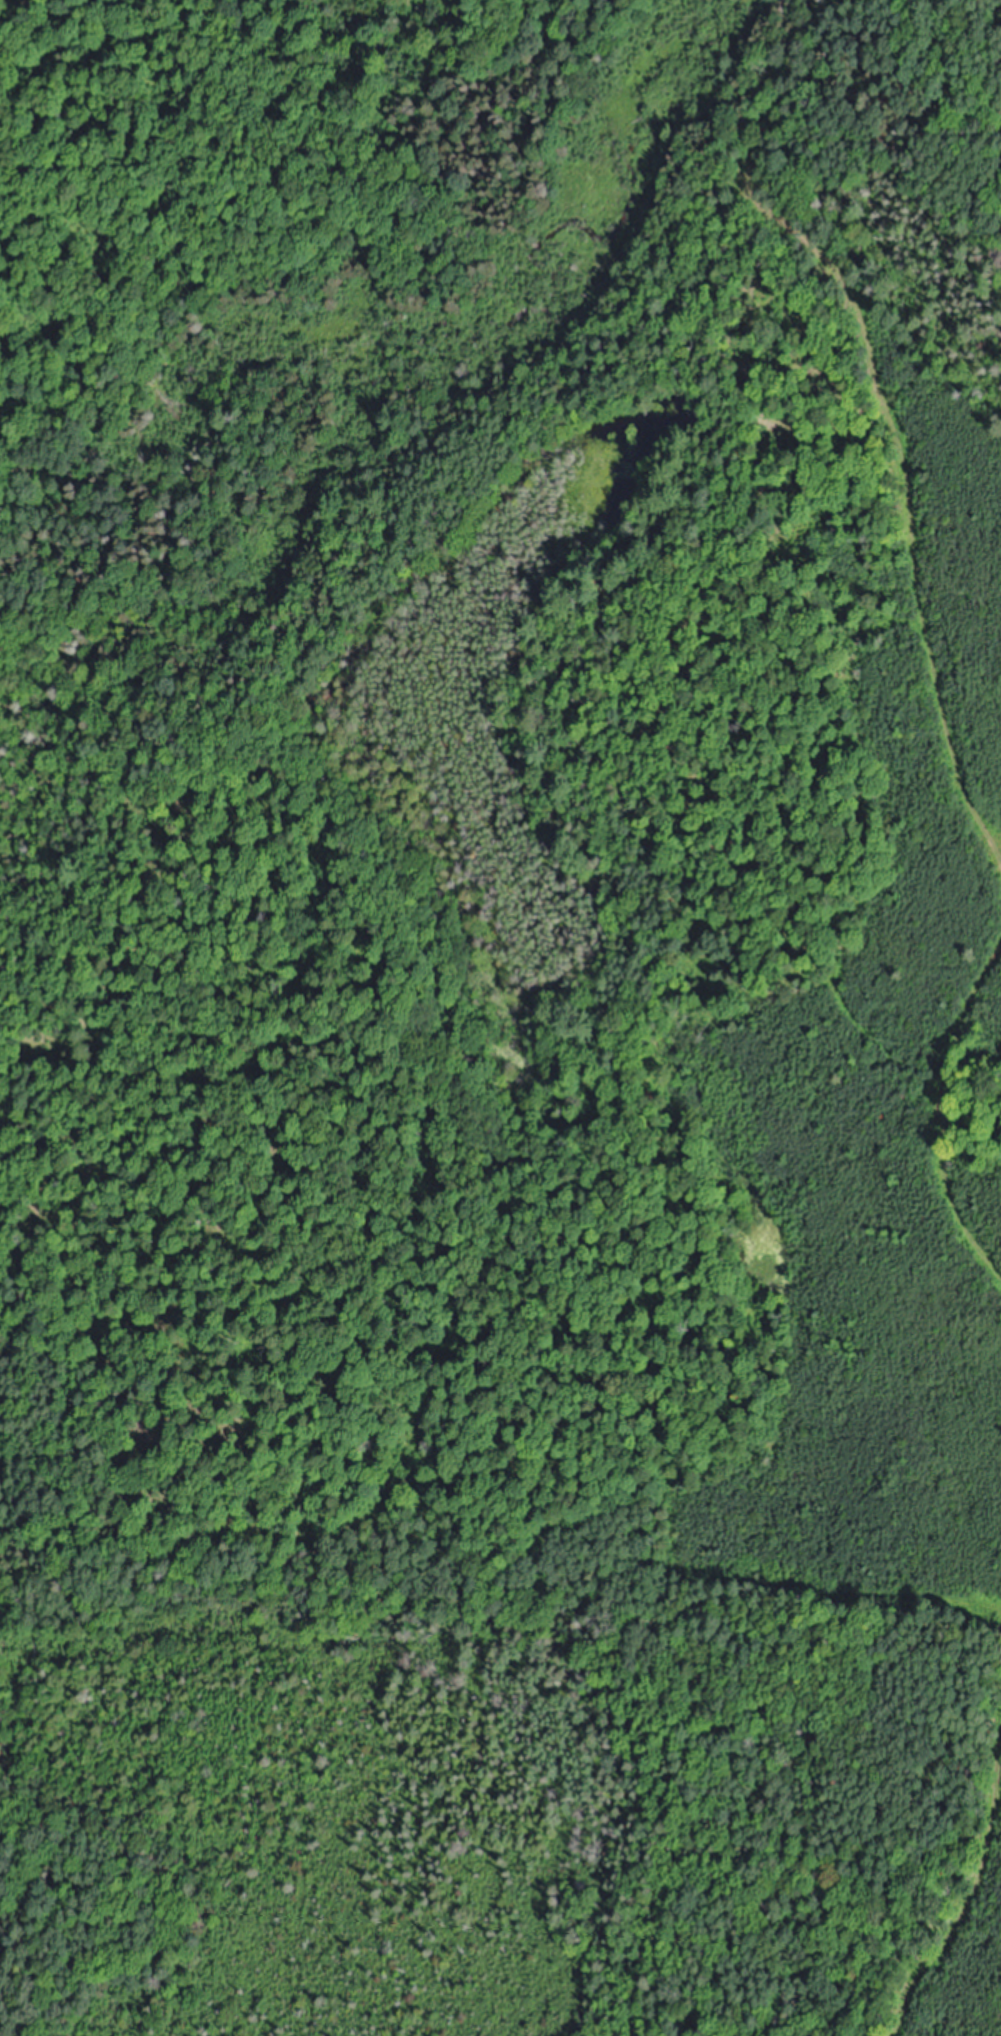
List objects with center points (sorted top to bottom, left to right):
road: (925, 604)
road: (937, 1101)
road: (965, 1904)

